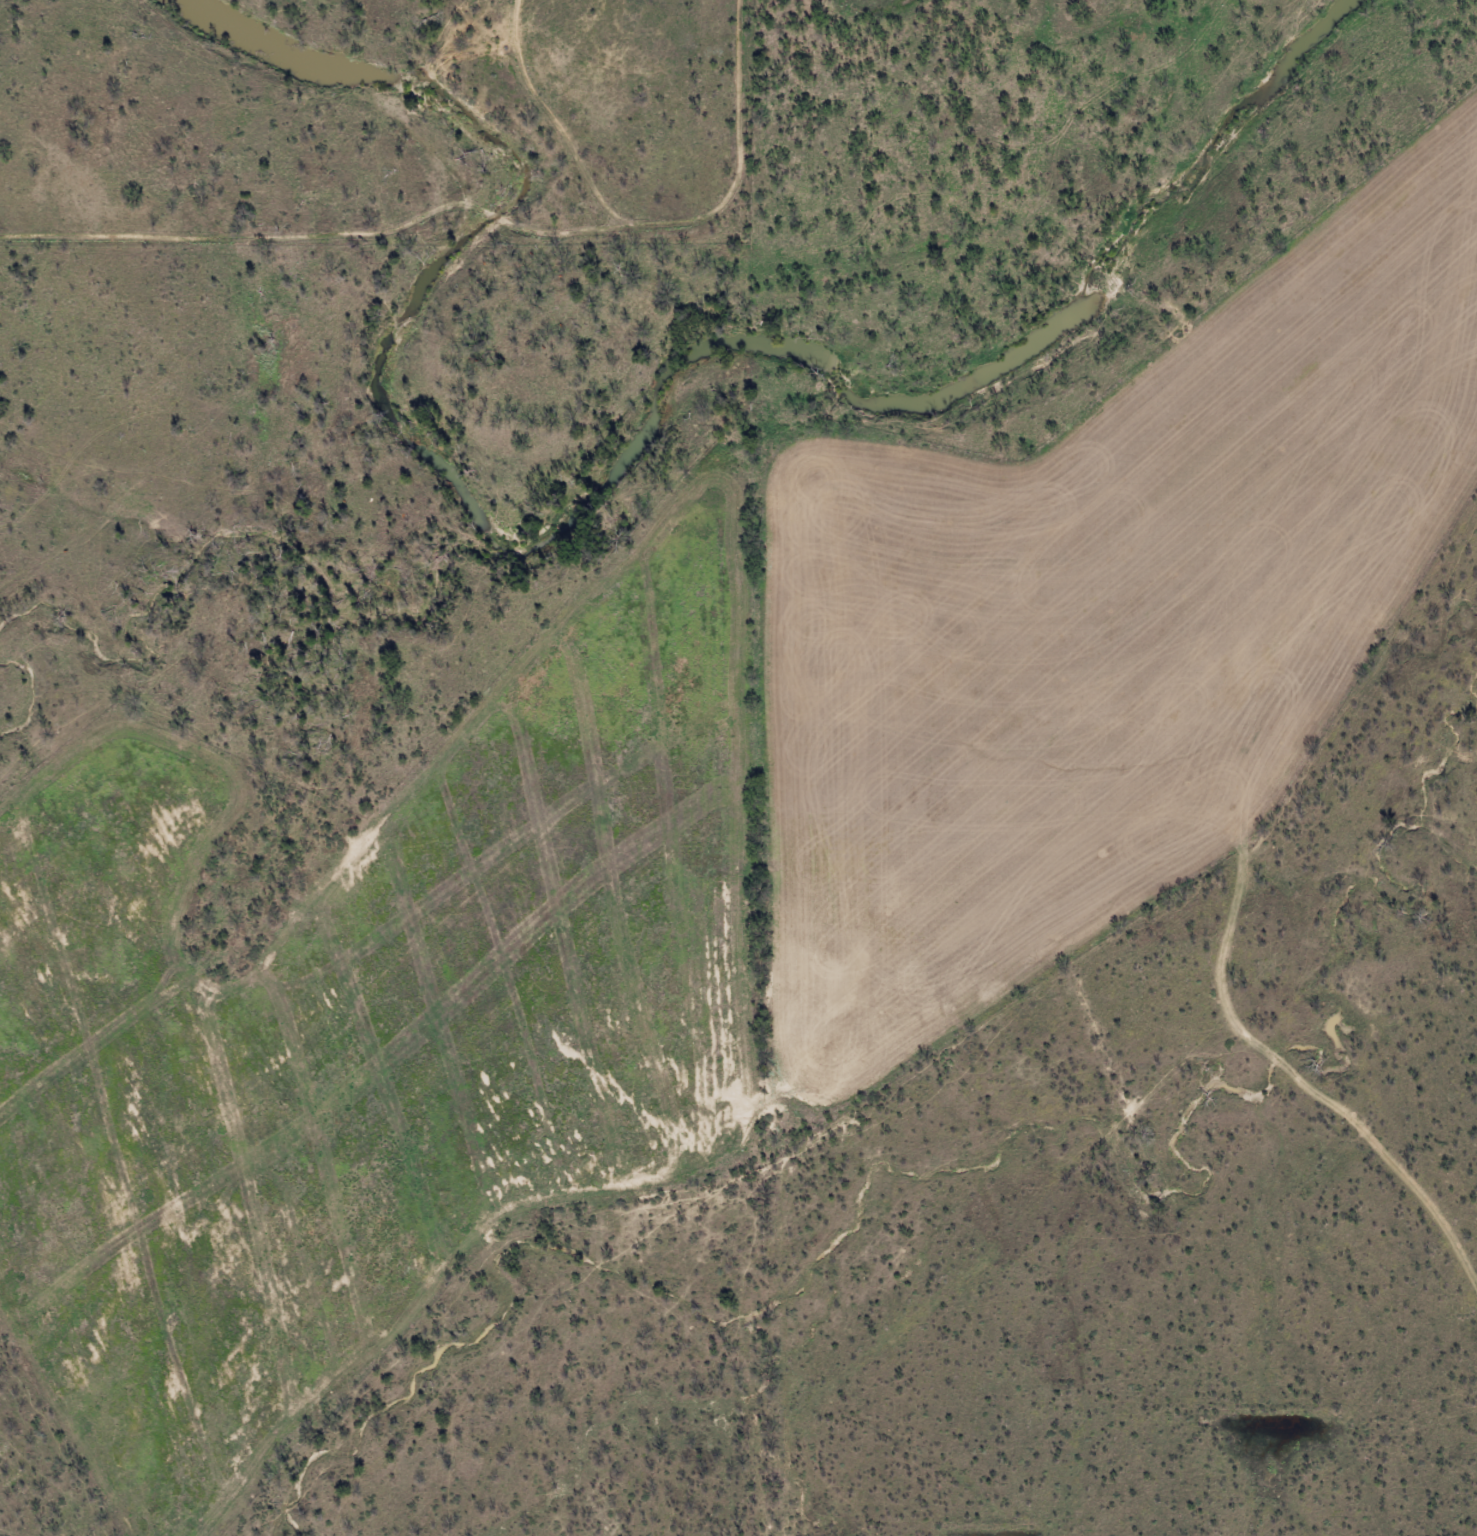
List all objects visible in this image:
road: (657, 225)
road: (903, 623)
road: (267, 1285)

